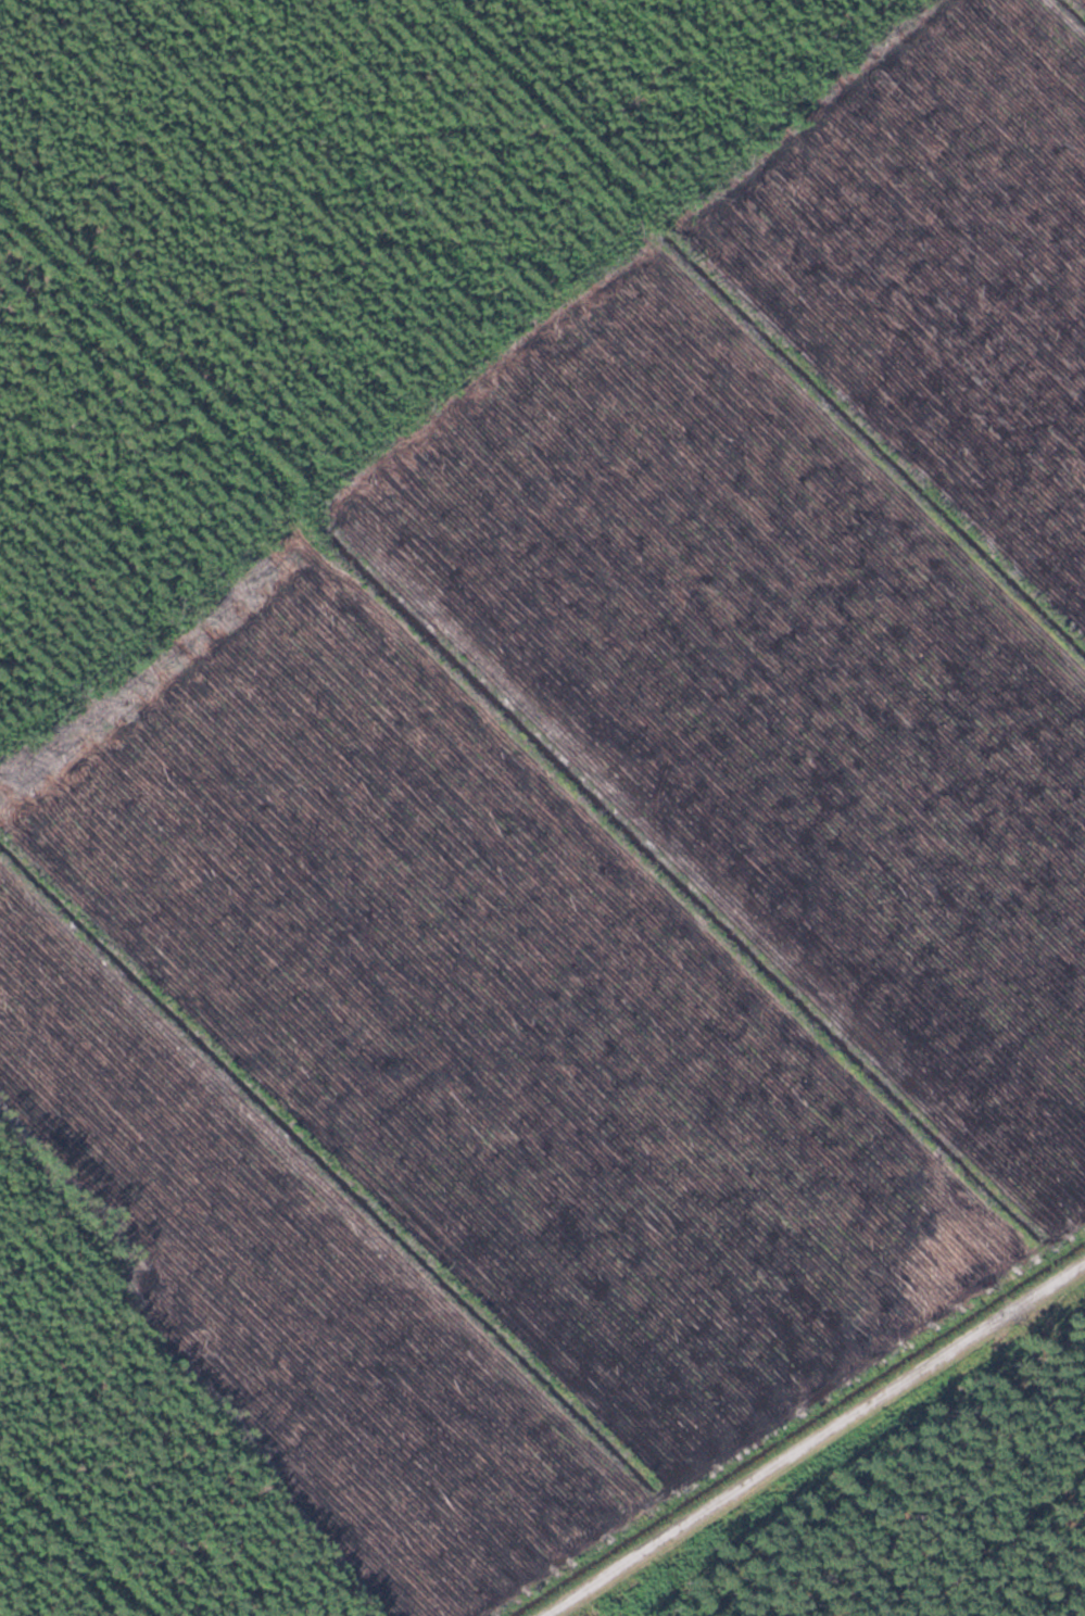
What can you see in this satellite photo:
road: (816, 1440)

